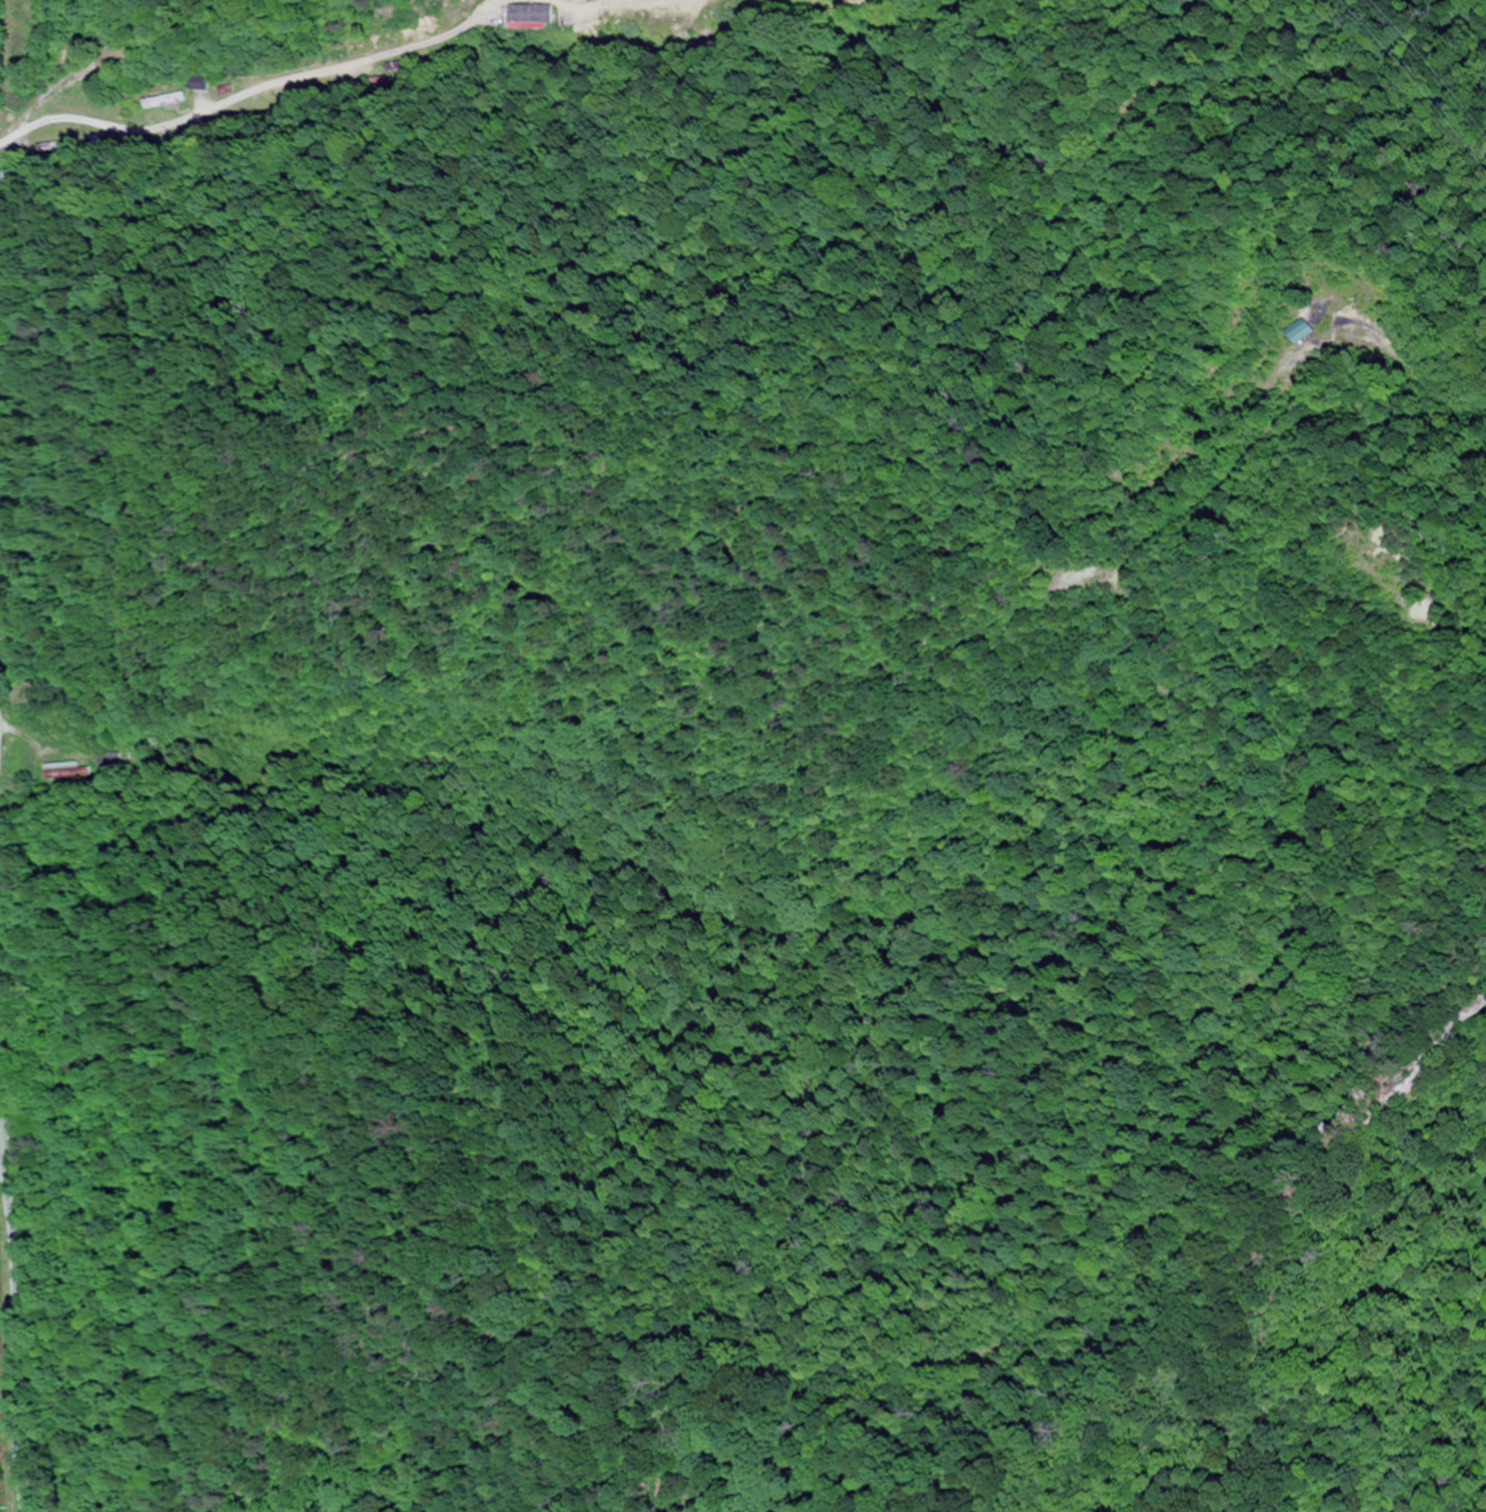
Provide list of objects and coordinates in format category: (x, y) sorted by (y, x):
building: (537, 14)
building: (198, 84)
building: (161, 100)
building: (1306, 331)
building: (102, 761)
building: (63, 771)
road: (671, 865)
road: (16, 1322)

